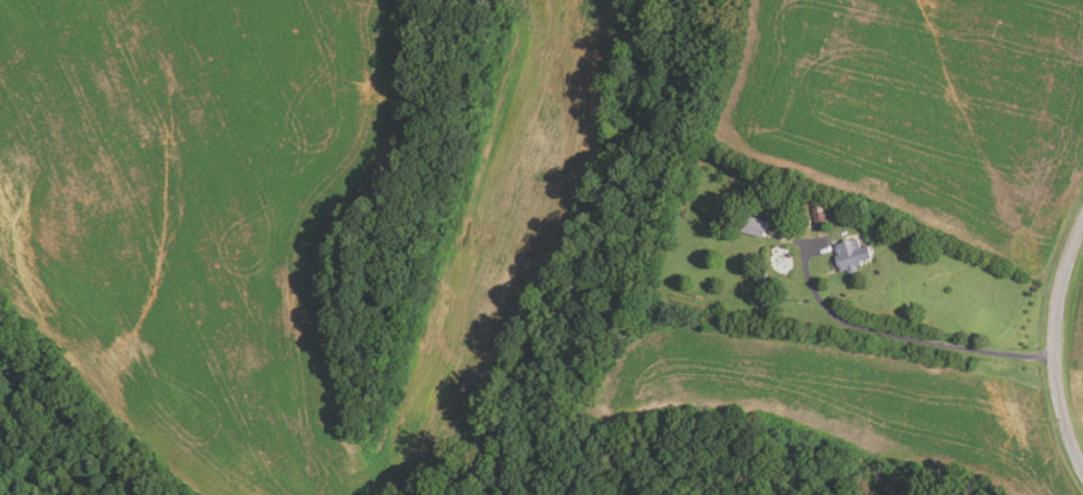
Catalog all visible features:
building: (750, 225)
building: (845, 255)
road: (900, 337)
road: (1052, 343)

